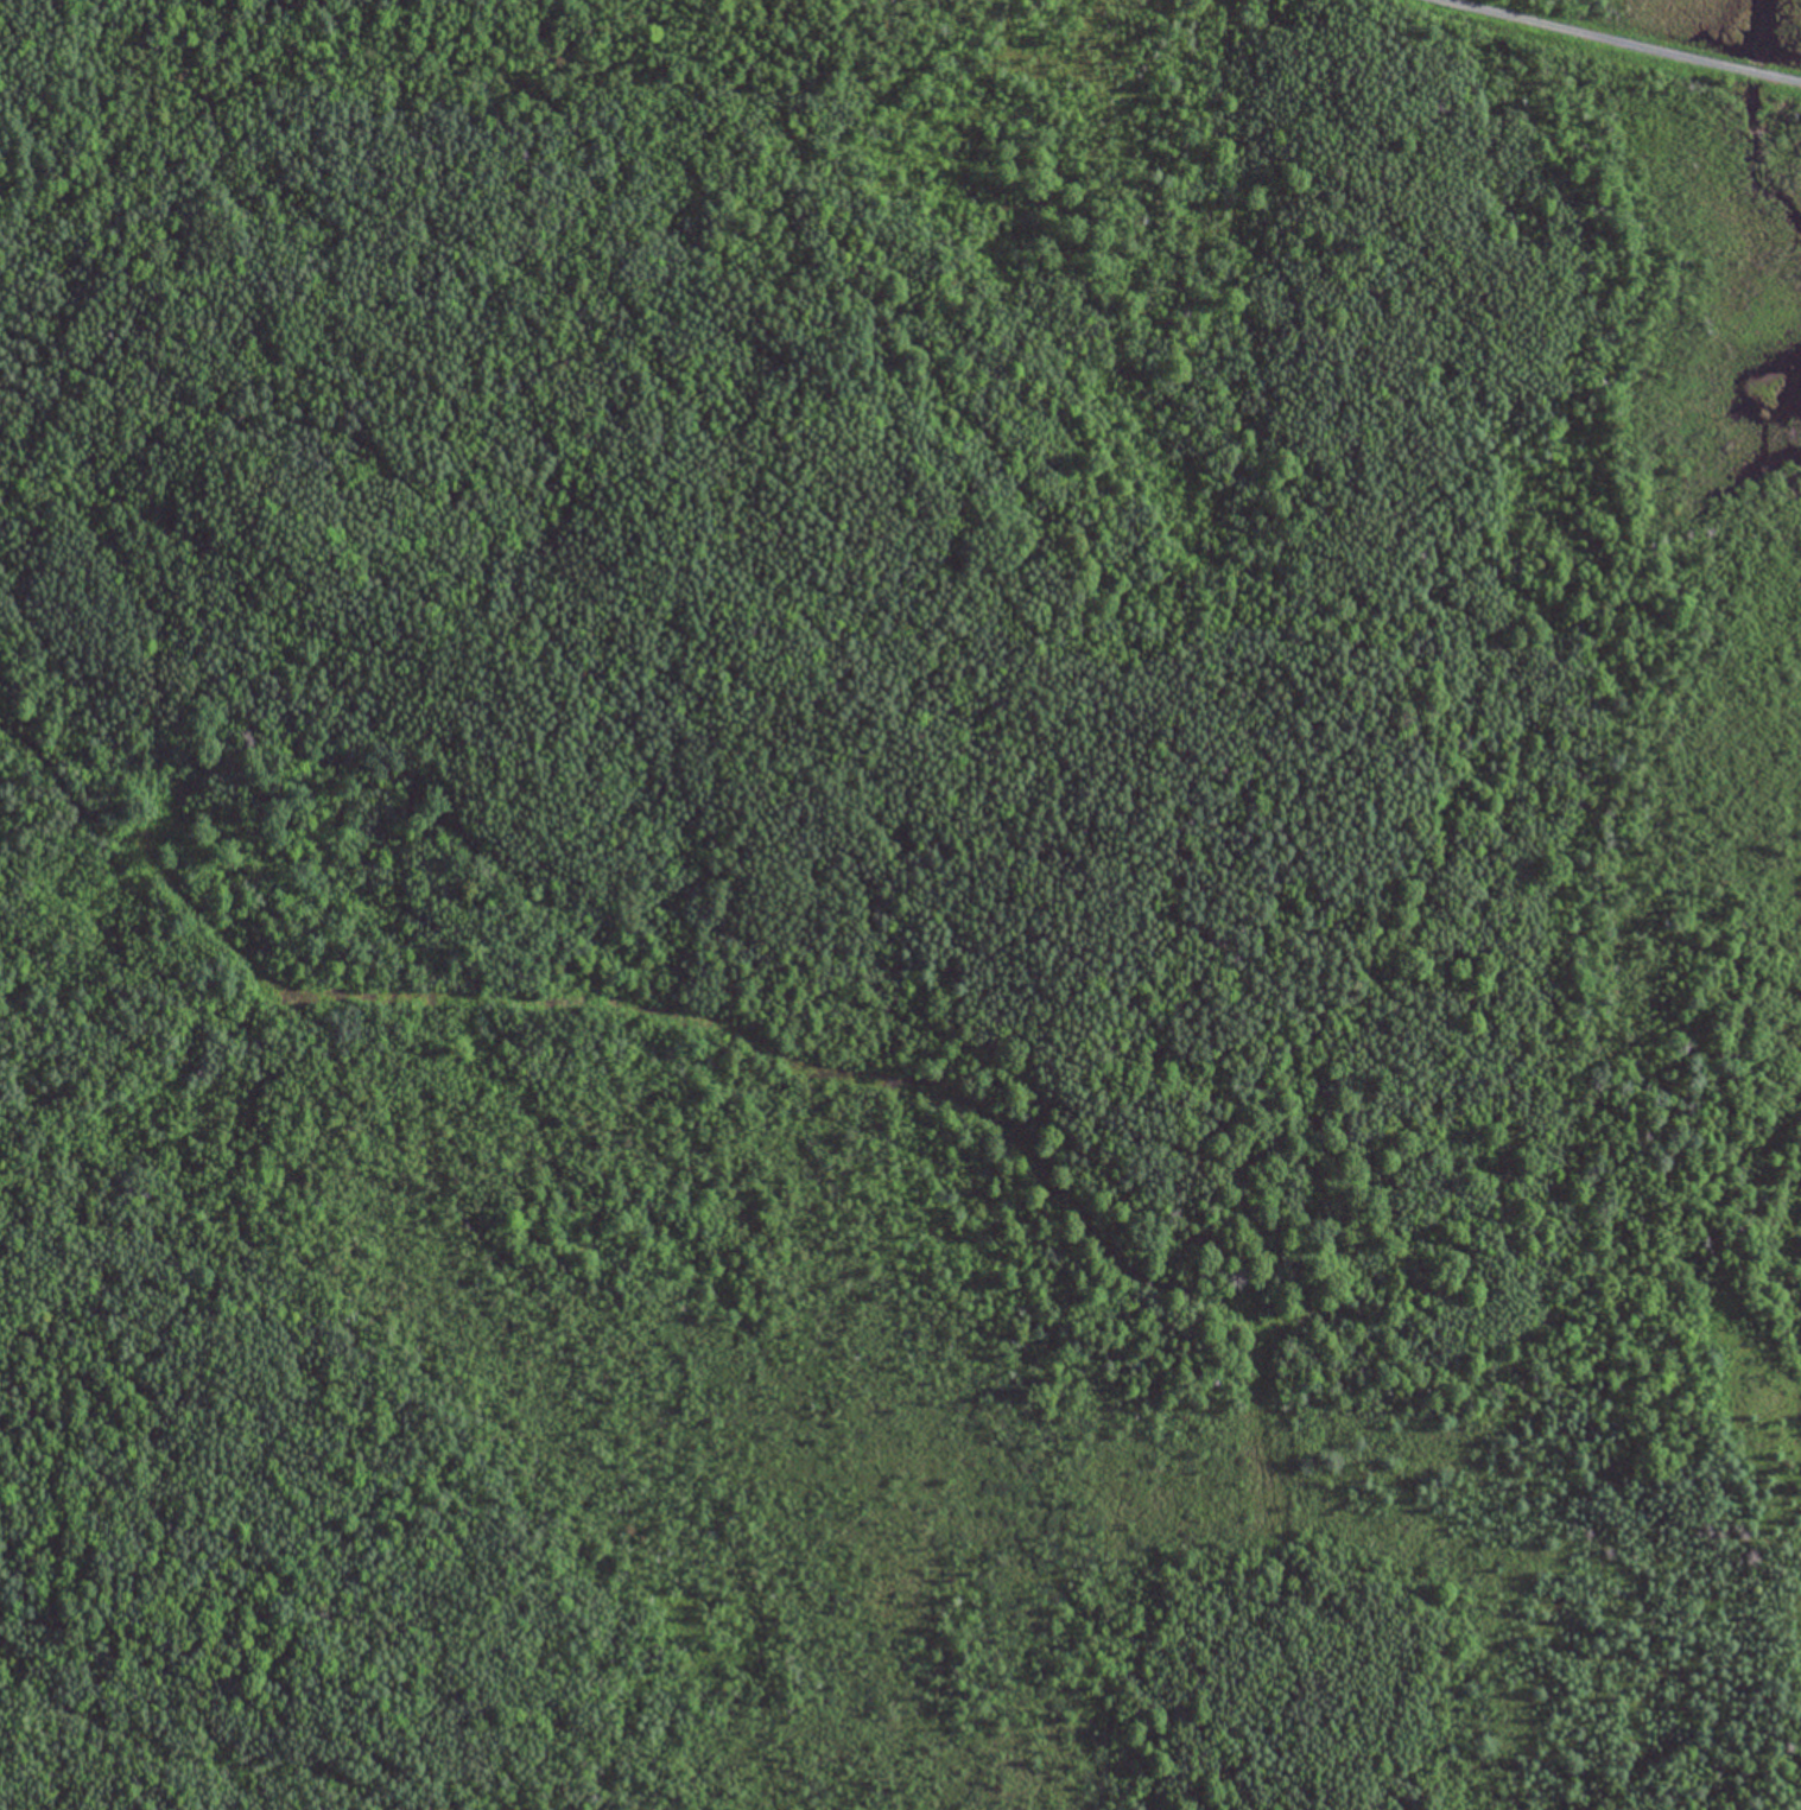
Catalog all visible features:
road: (1606, 43)

